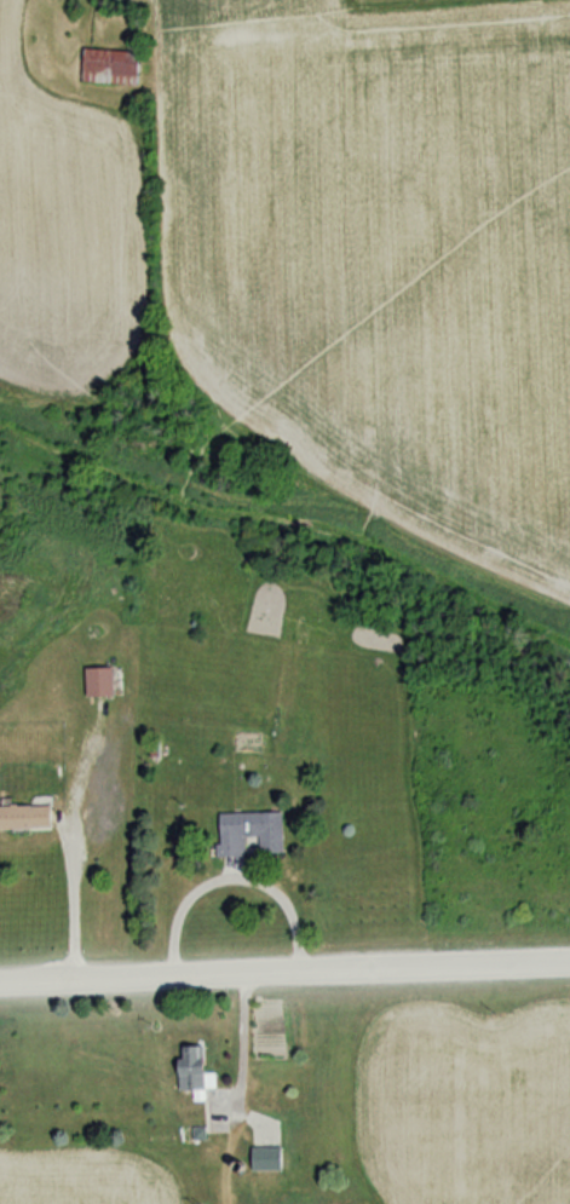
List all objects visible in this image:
building: (106, 67)
building: (93, 682)
building: (22, 818)
building: (247, 833)
road: (68, 894)
road: (284, 975)
road: (237, 1052)
building: (190, 1072)
building: (263, 1160)

